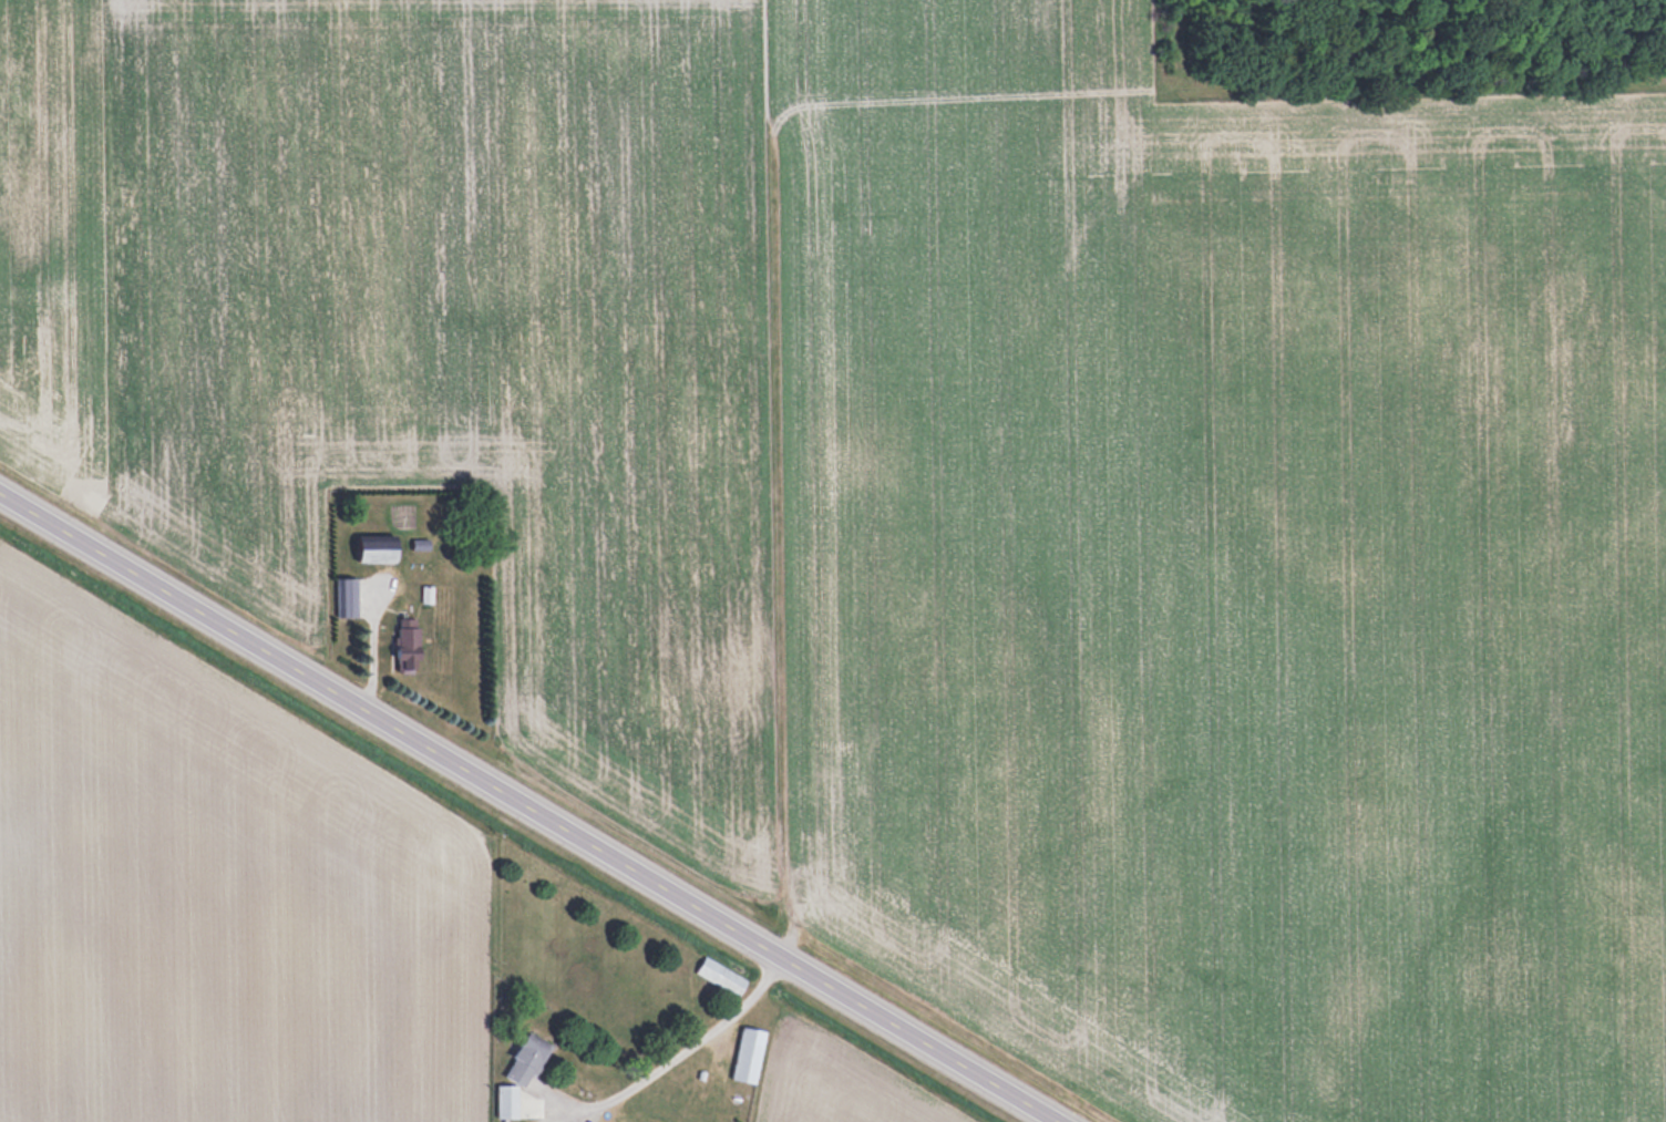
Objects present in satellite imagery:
building: (376, 550)
building: (348, 597)
building: (407, 644)
road: (527, 807)
building: (720, 975)
building: (747, 1054)
road: (683, 1058)
building: (525, 1060)
building: (506, 1102)

